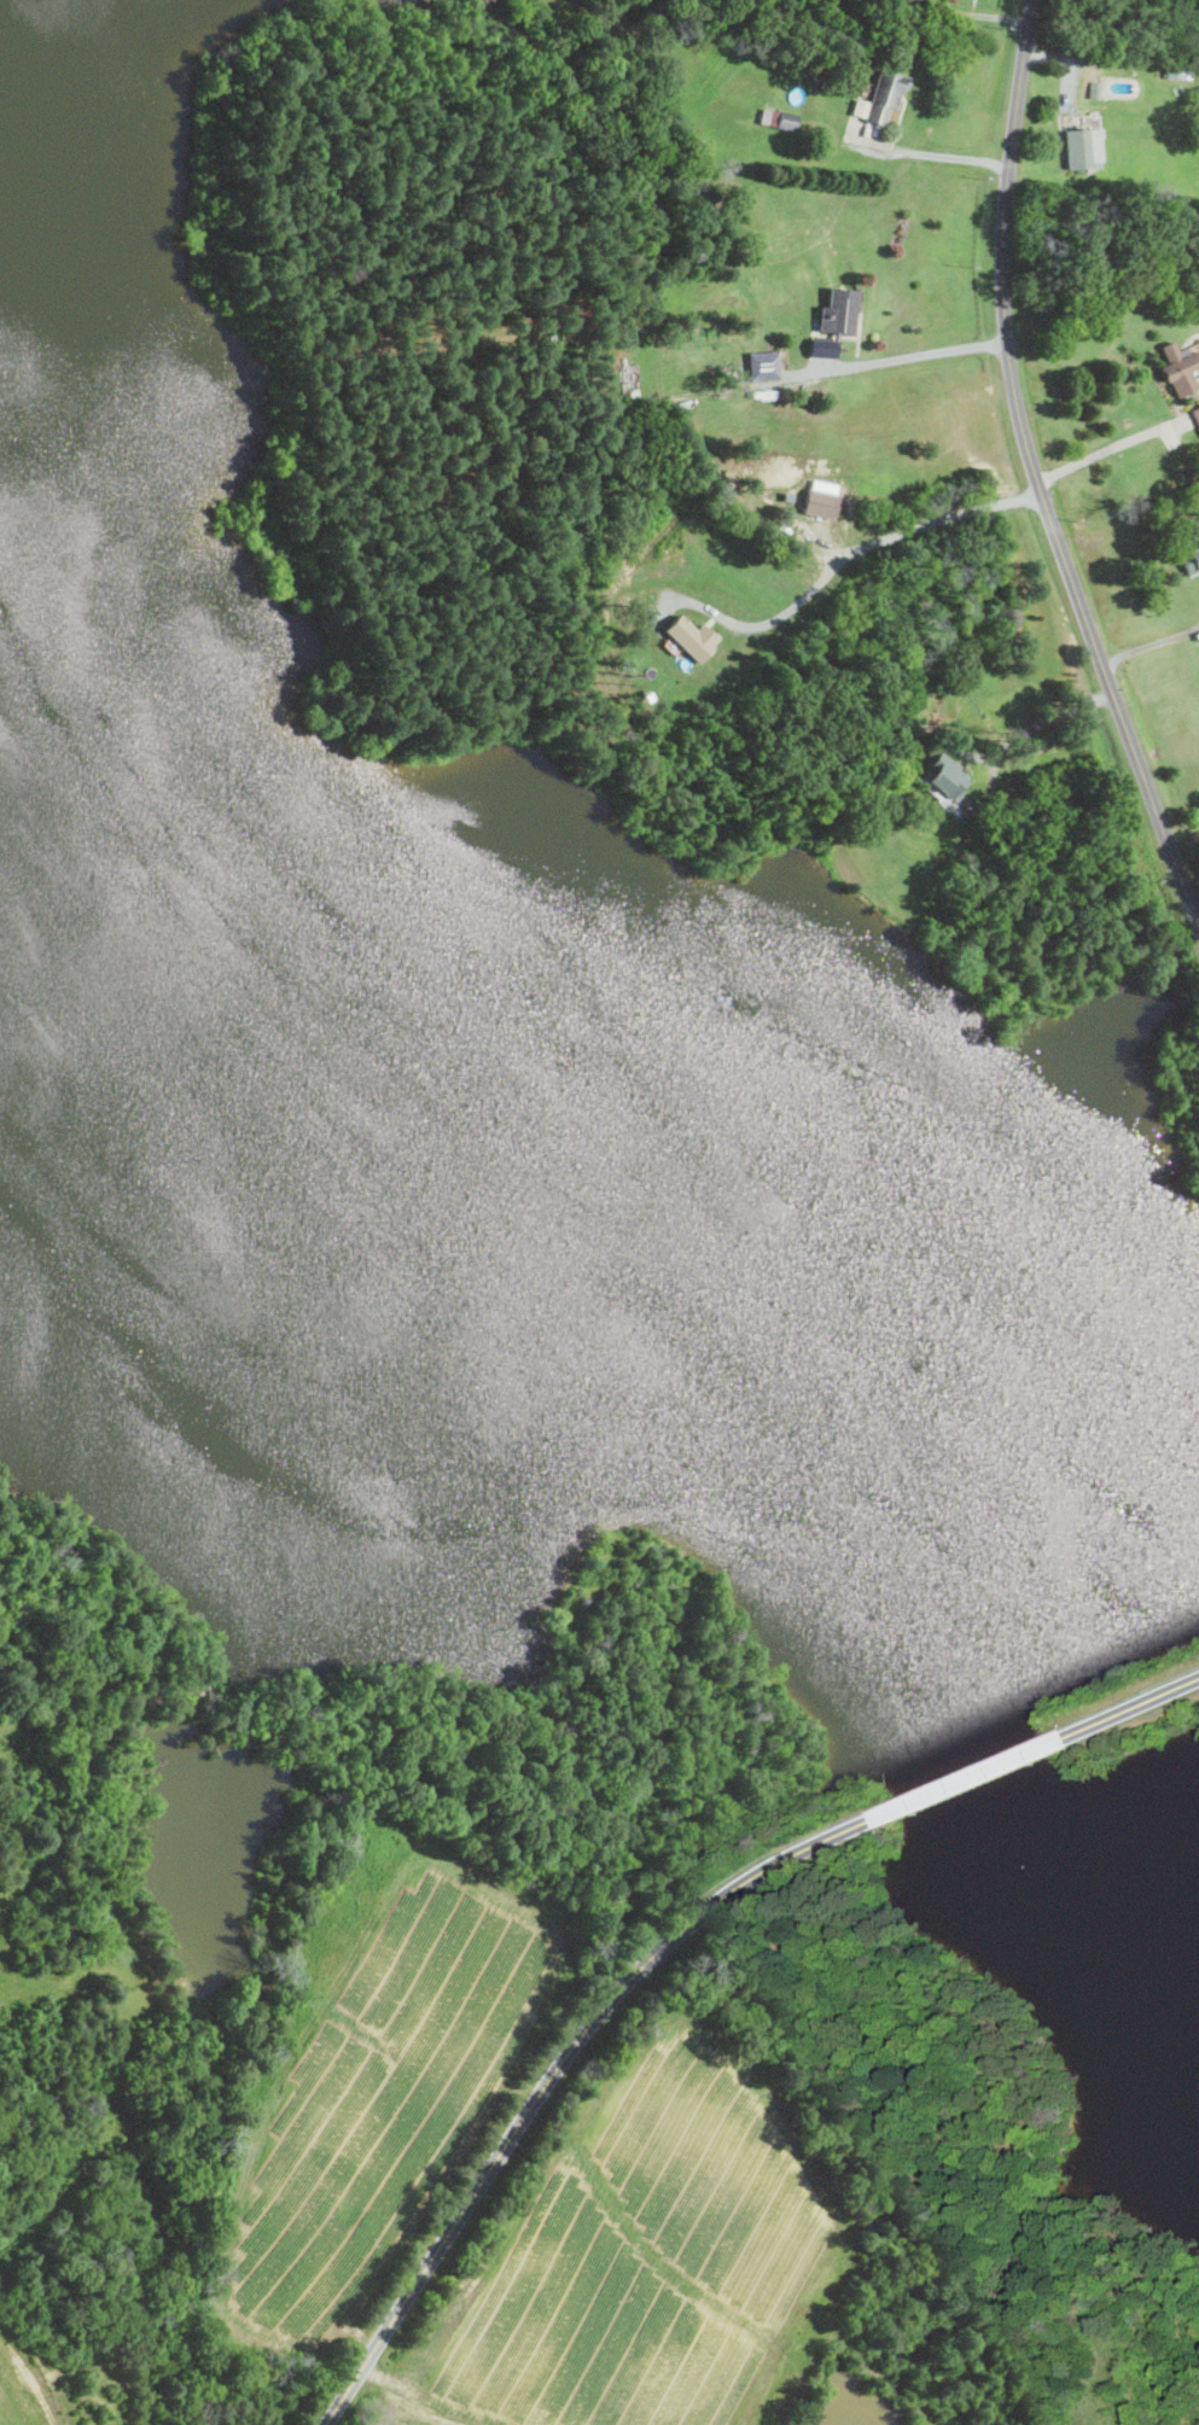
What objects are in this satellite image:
building: (1176, 72)
building: (1095, 88)
building: (880, 97)
building: (778, 117)
building: (1078, 147)
road: (936, 153)
building: (834, 320)
road: (918, 354)
building: (763, 365)
building: (1181, 366)
building: (1197, 412)
road: (1112, 448)
road: (1036, 474)
building: (822, 497)
road: (866, 546)
building: (1191, 559)
building: (692, 636)
road: (1149, 647)
road: (1049, 721)
building: (944, 775)
road: (1133, 1709)
road: (968, 1780)
road: (552, 2077)

